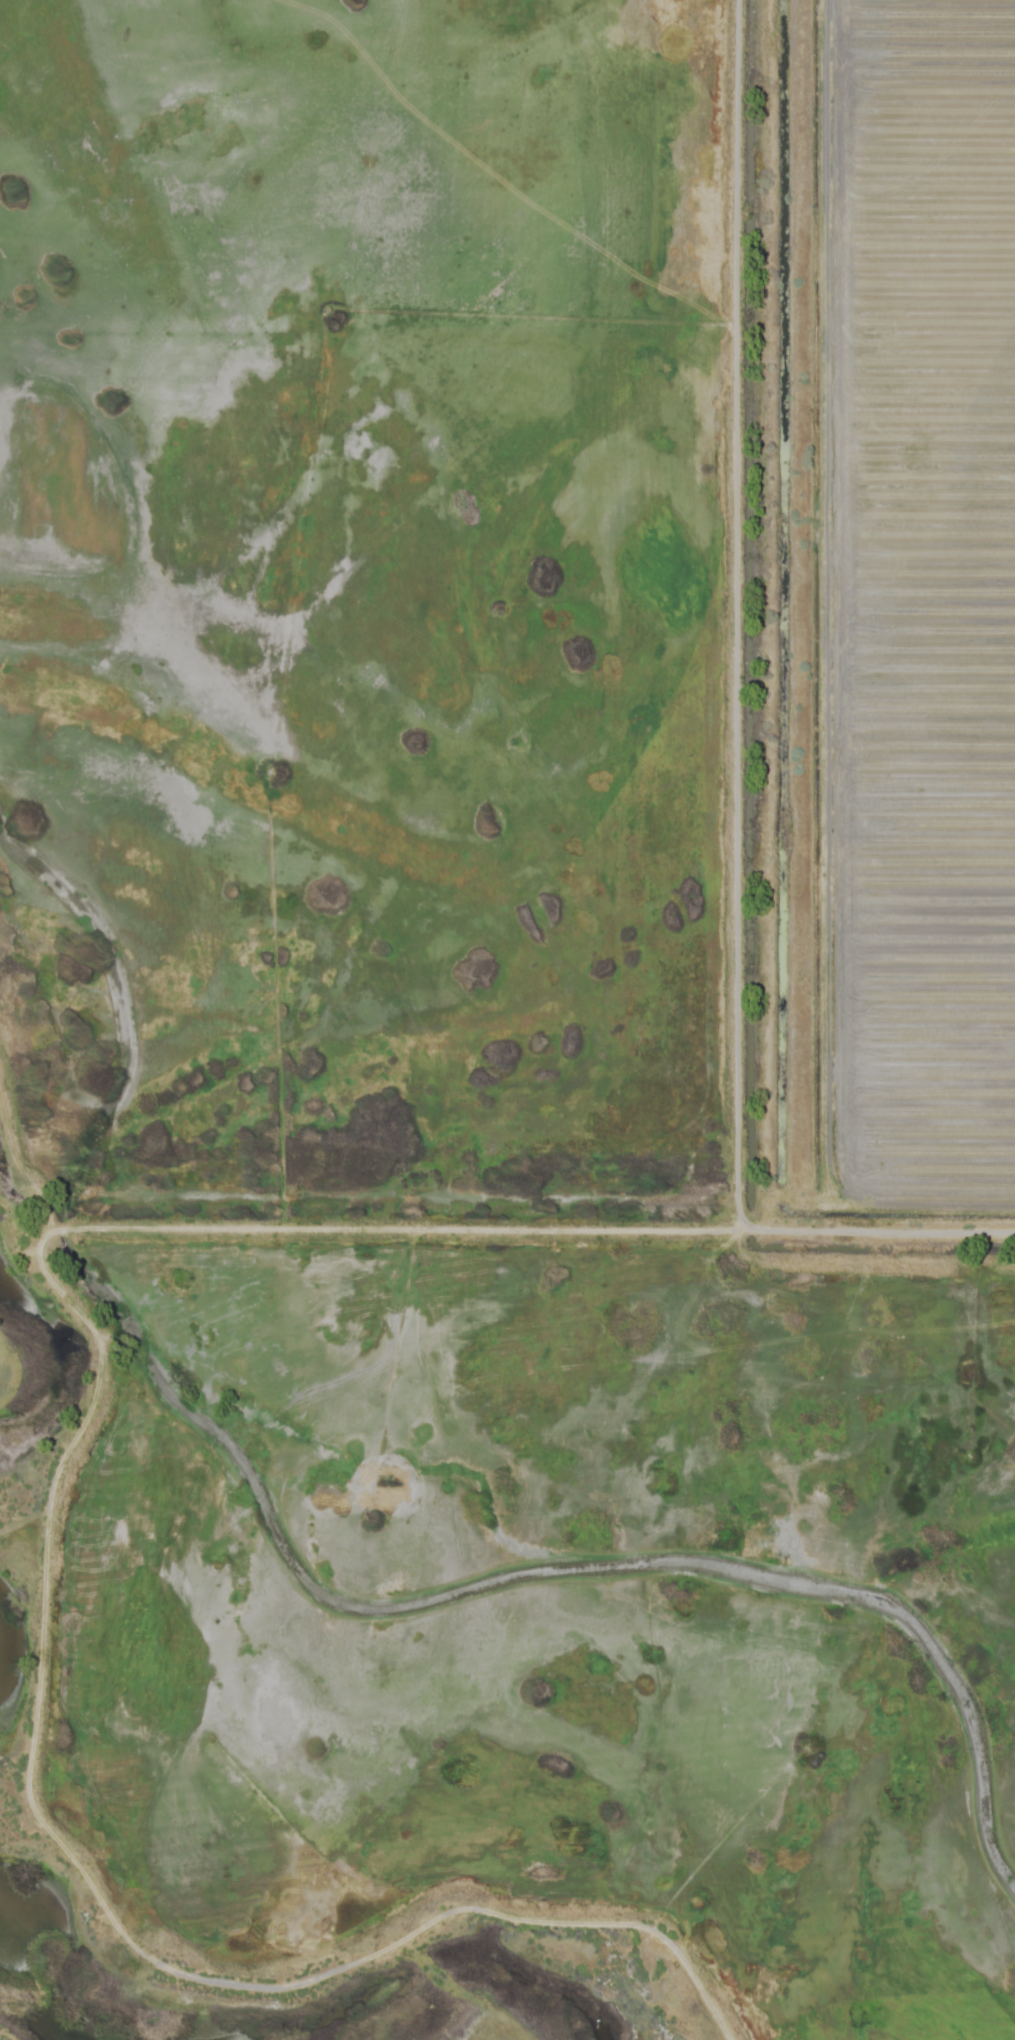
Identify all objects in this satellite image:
crop: (882, 598)

